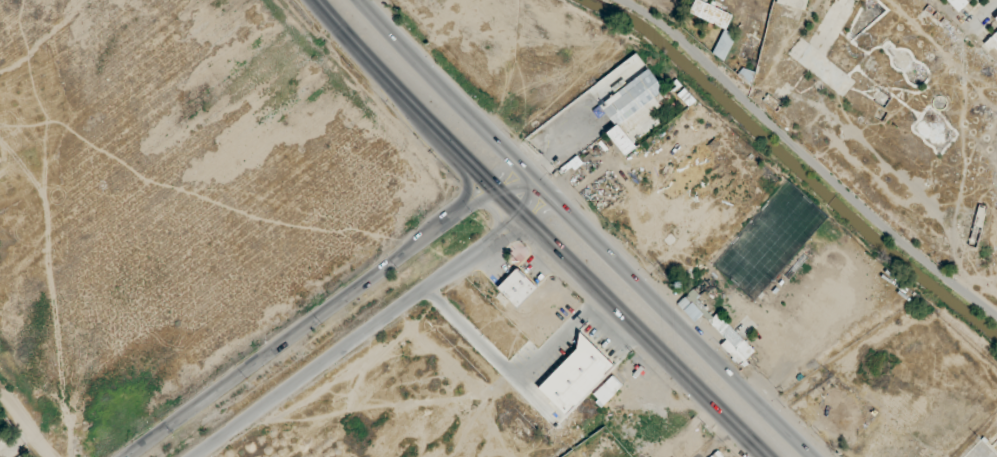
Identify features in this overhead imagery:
park: (771, 240)
power tower: (670, 275)
water park: (10, 439)

